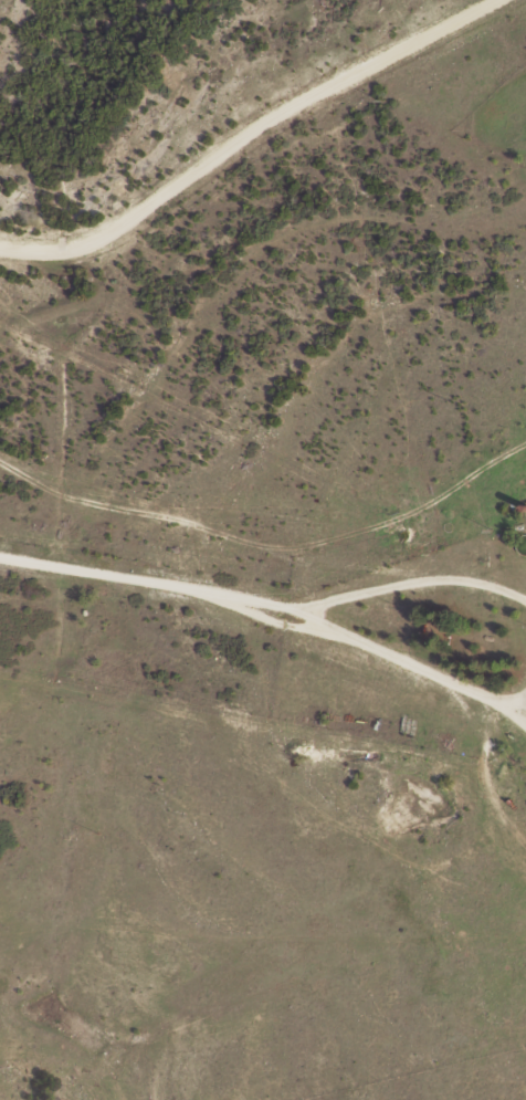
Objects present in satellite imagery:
road: (244, 134)
road: (160, 582)
road: (411, 582)
road: (272, 621)
road: (420, 668)
road: (512, 712)

